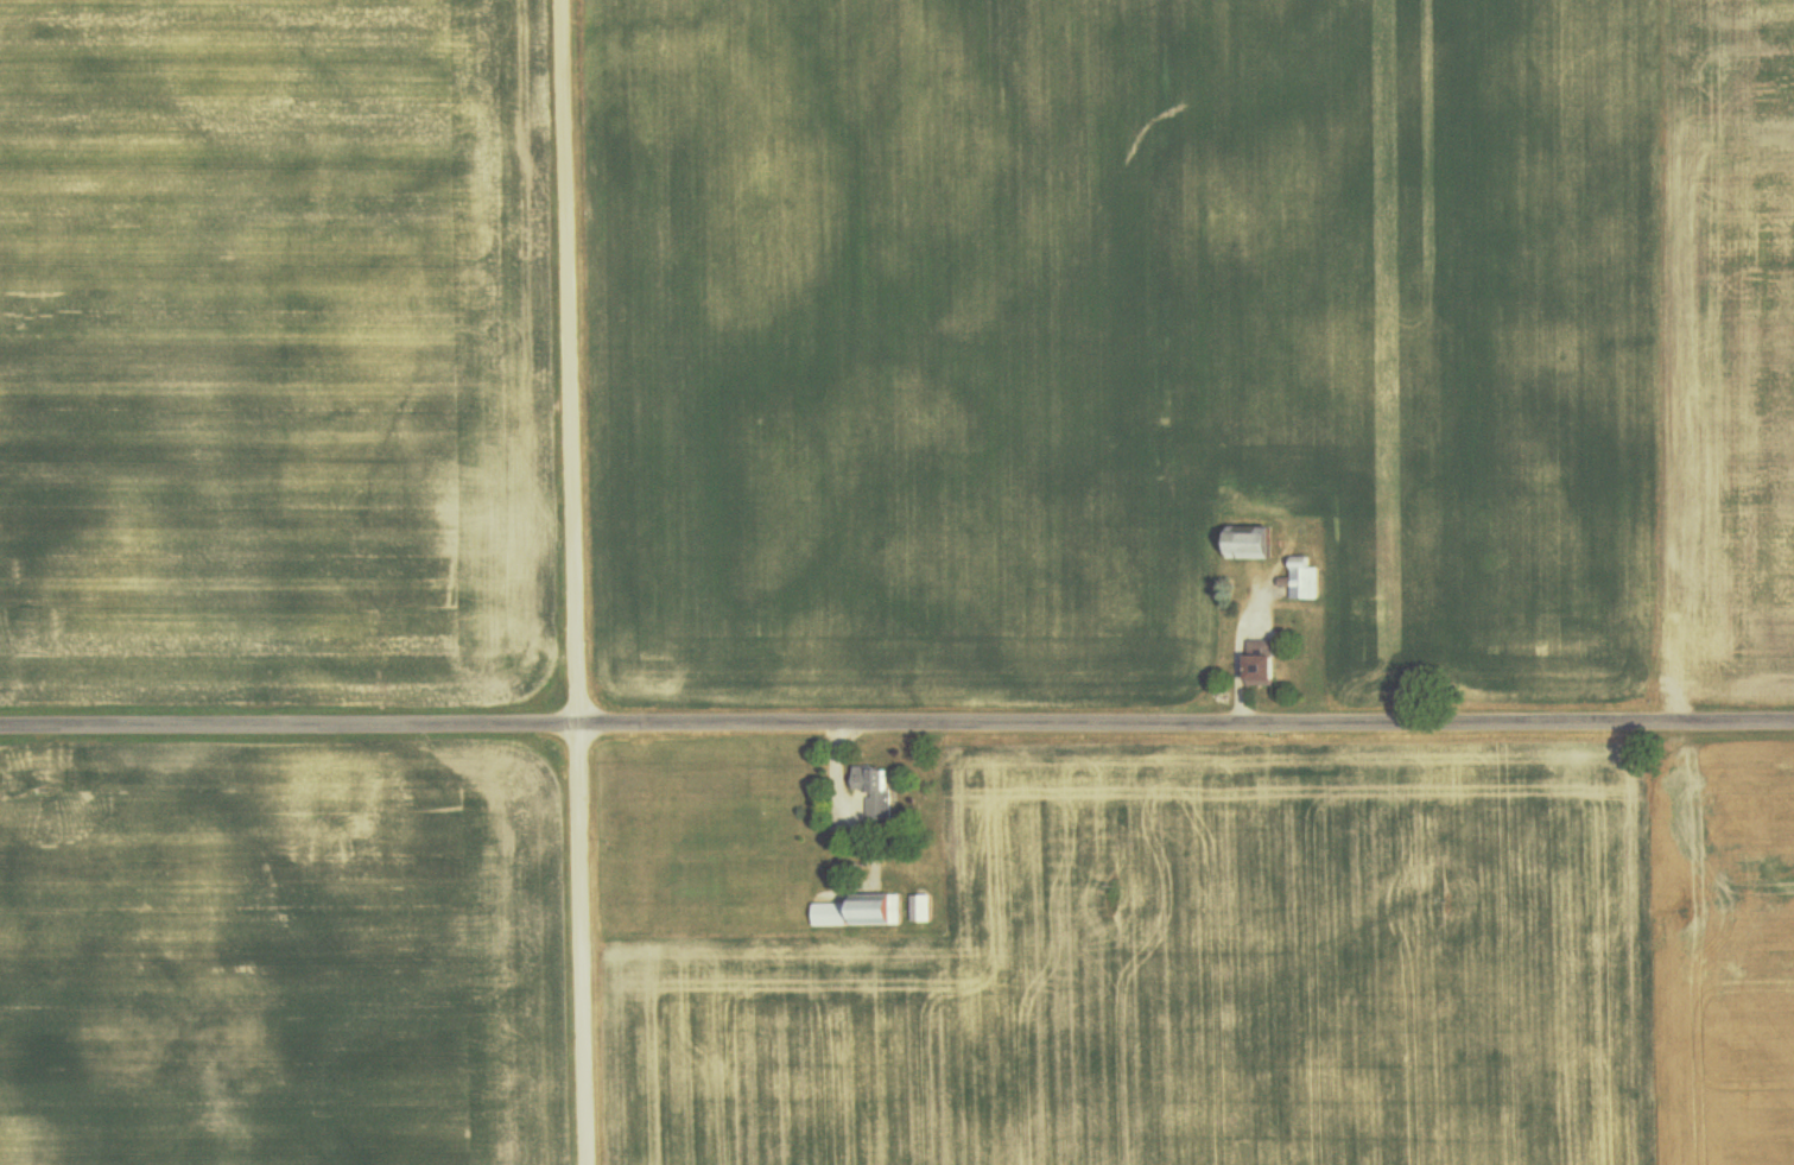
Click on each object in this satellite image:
crop: (1121, 340)
crop: (1723, 346)
crop: (273, 347)
building: (1255, 546)
road: (578, 582)
building: (1264, 669)
road: (896, 724)
building: (874, 793)
building: (920, 908)
building: (830, 914)
crop: (280, 957)
crop: (1268, 974)

